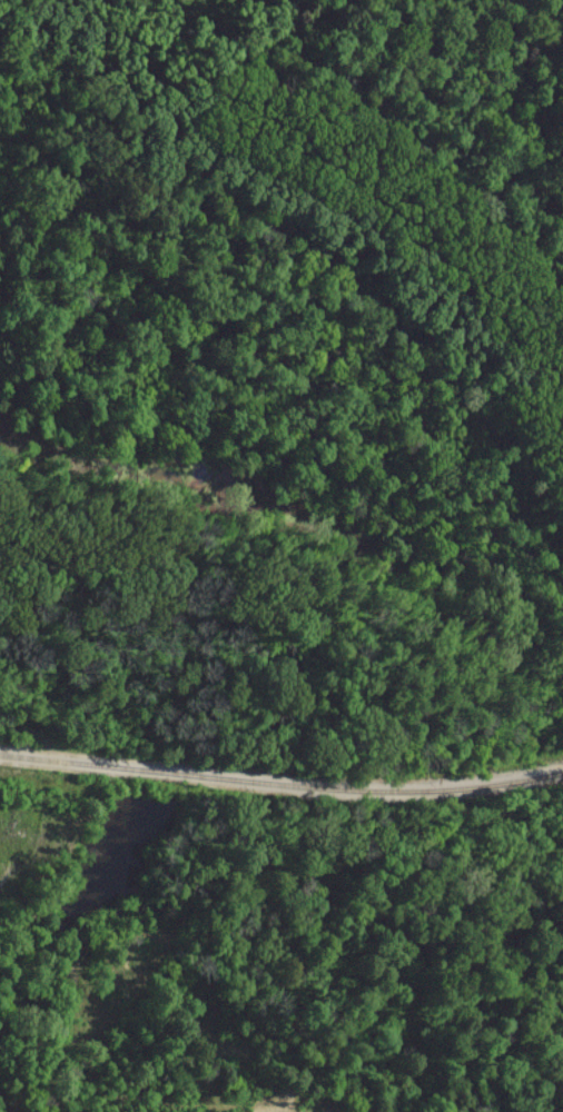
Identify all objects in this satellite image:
railway: (281, 784)

